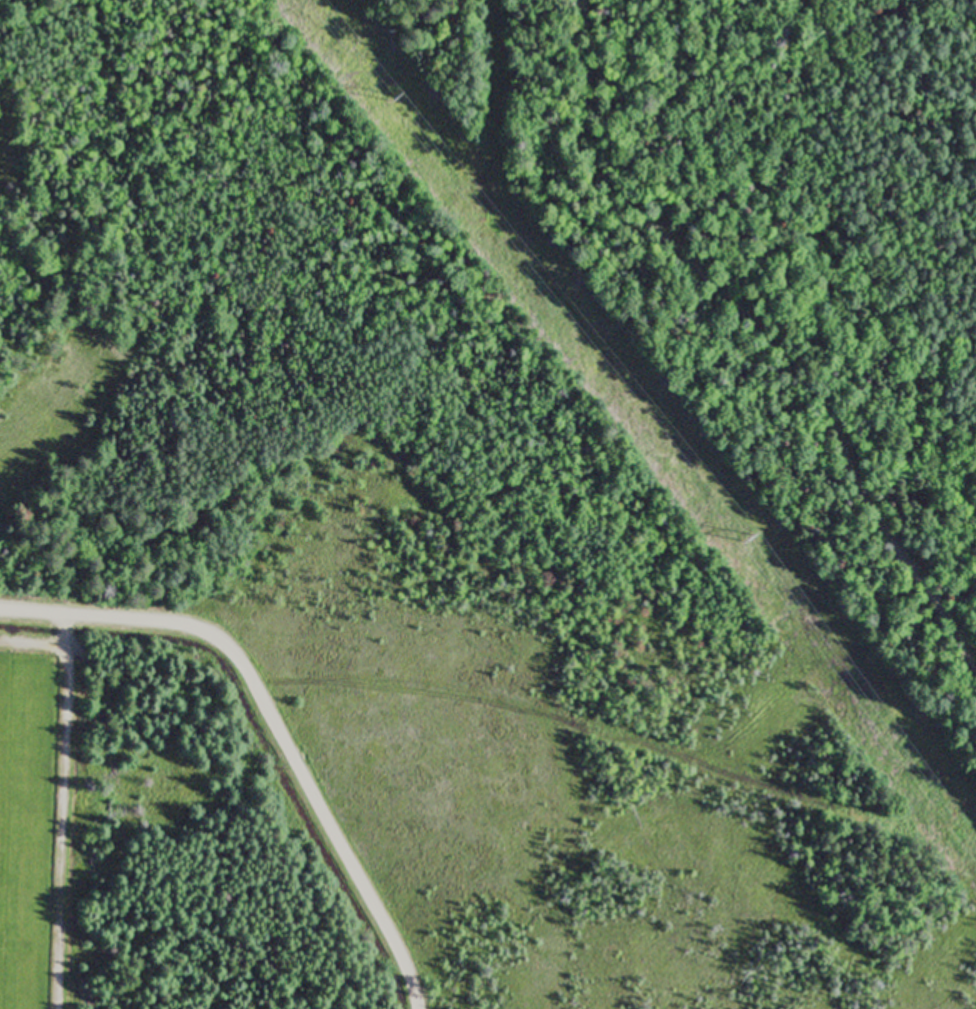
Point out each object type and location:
power tower: (392, 96)
road: (832, 294)
power tower: (754, 537)
road: (270, 722)
crop: (27, 825)

